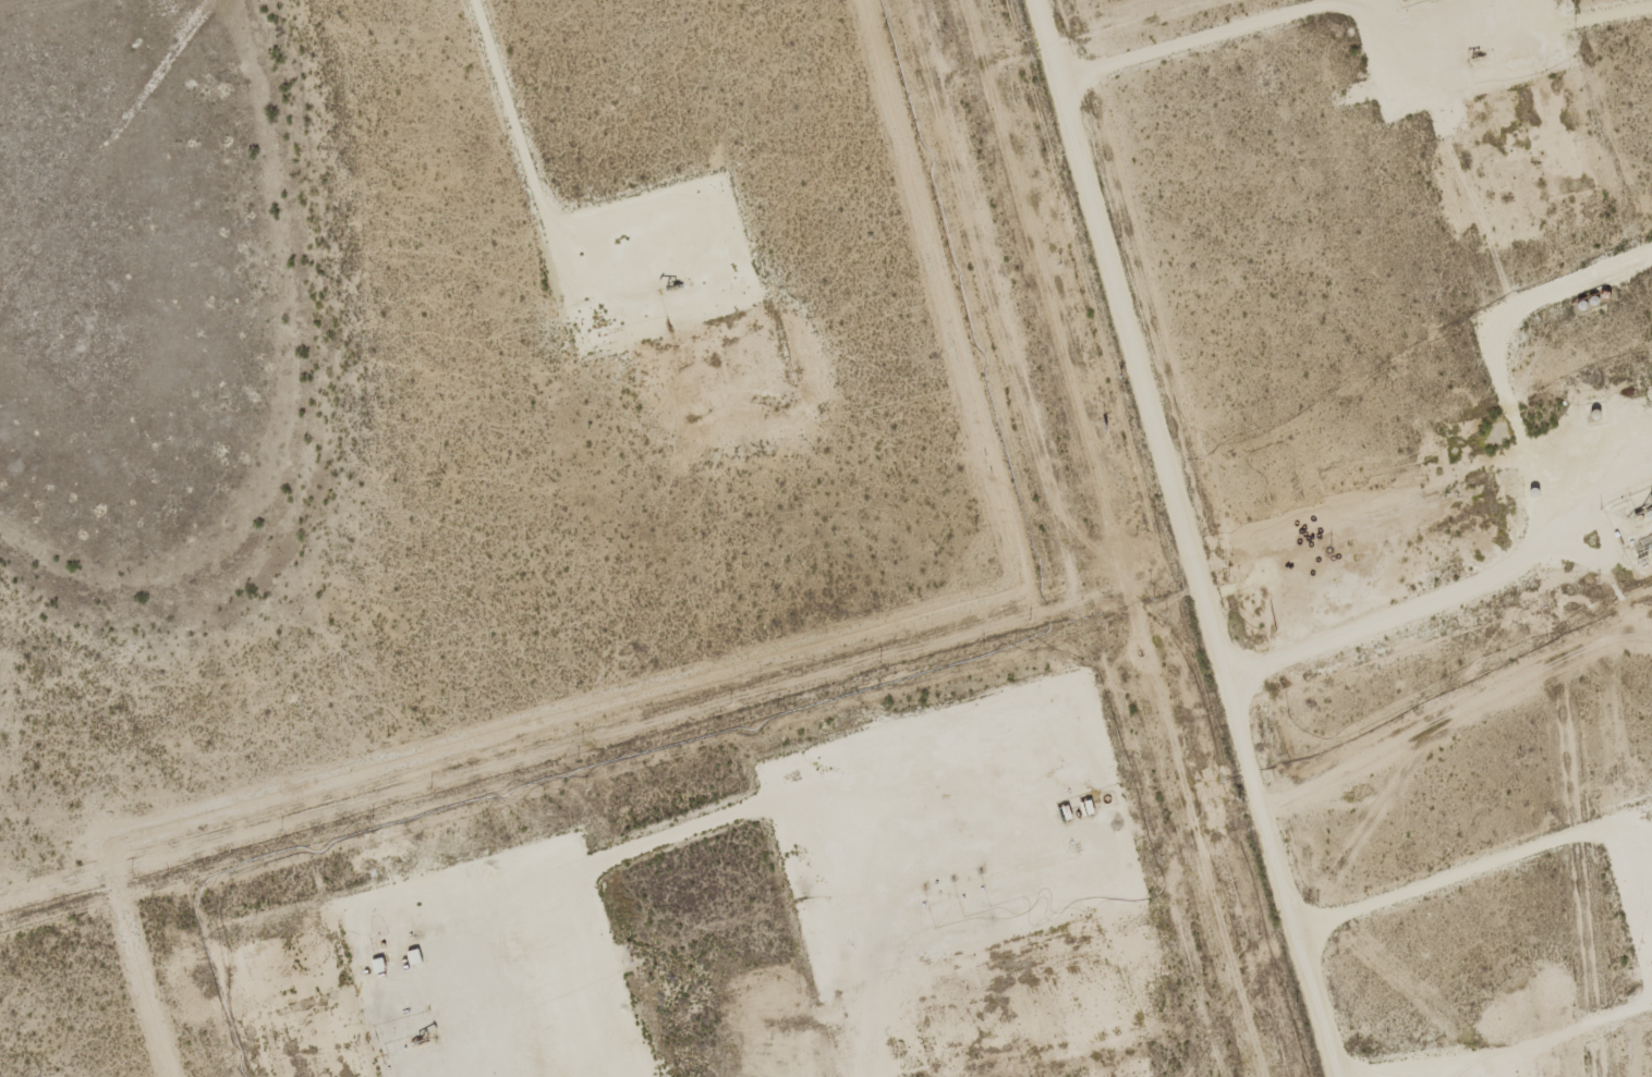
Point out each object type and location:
petroleum well: (1479, 63)
petroleum well: (677, 281)
road: (1176, 538)

